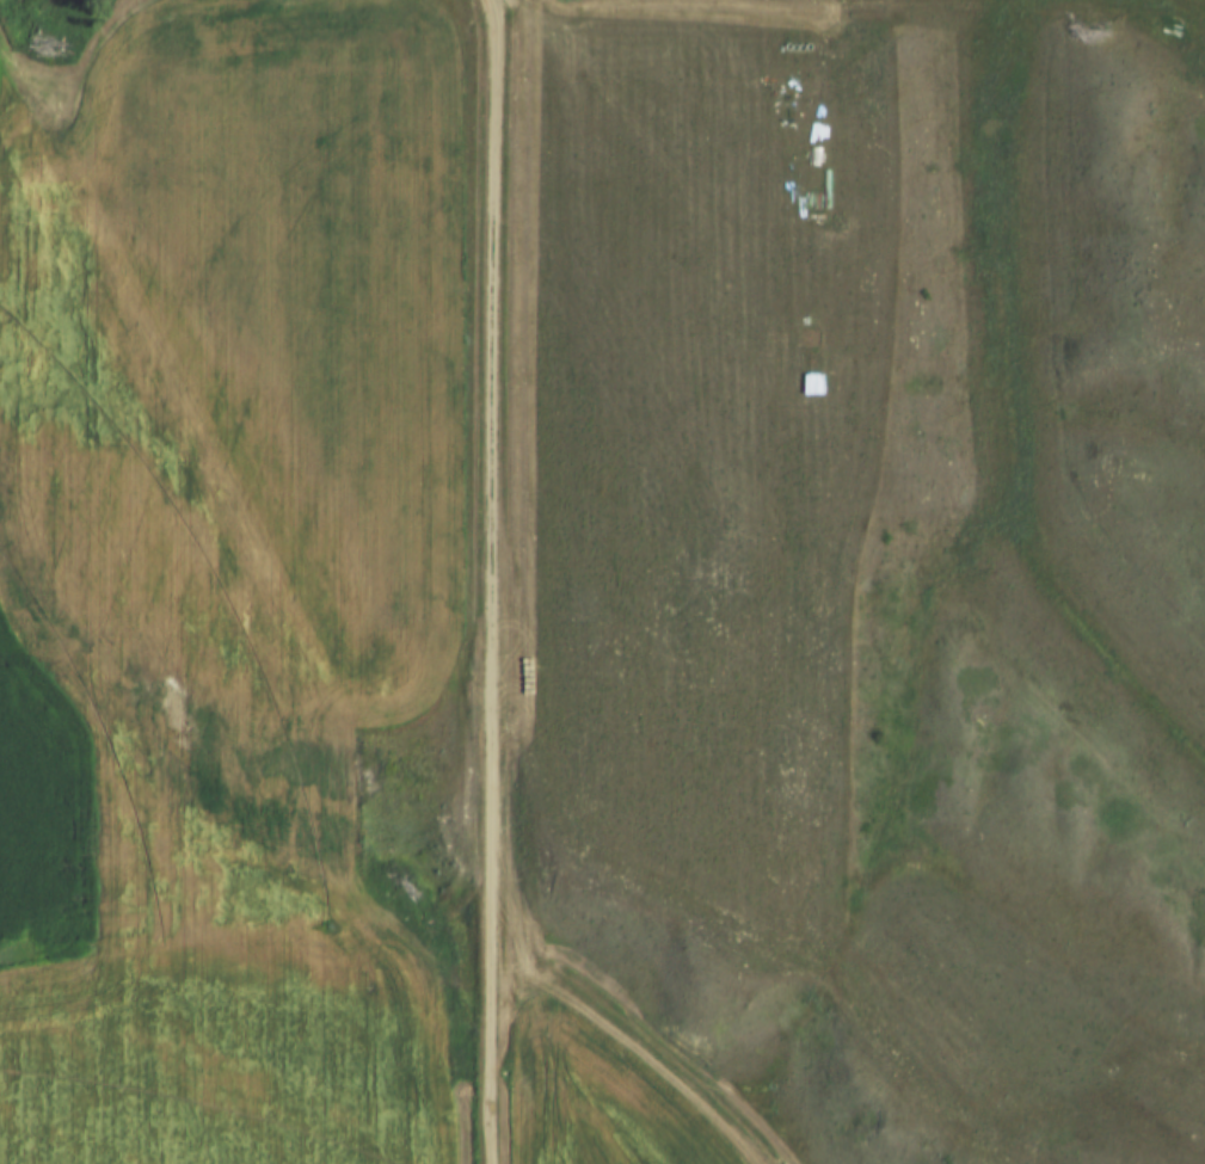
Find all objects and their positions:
road: (496, 581)

